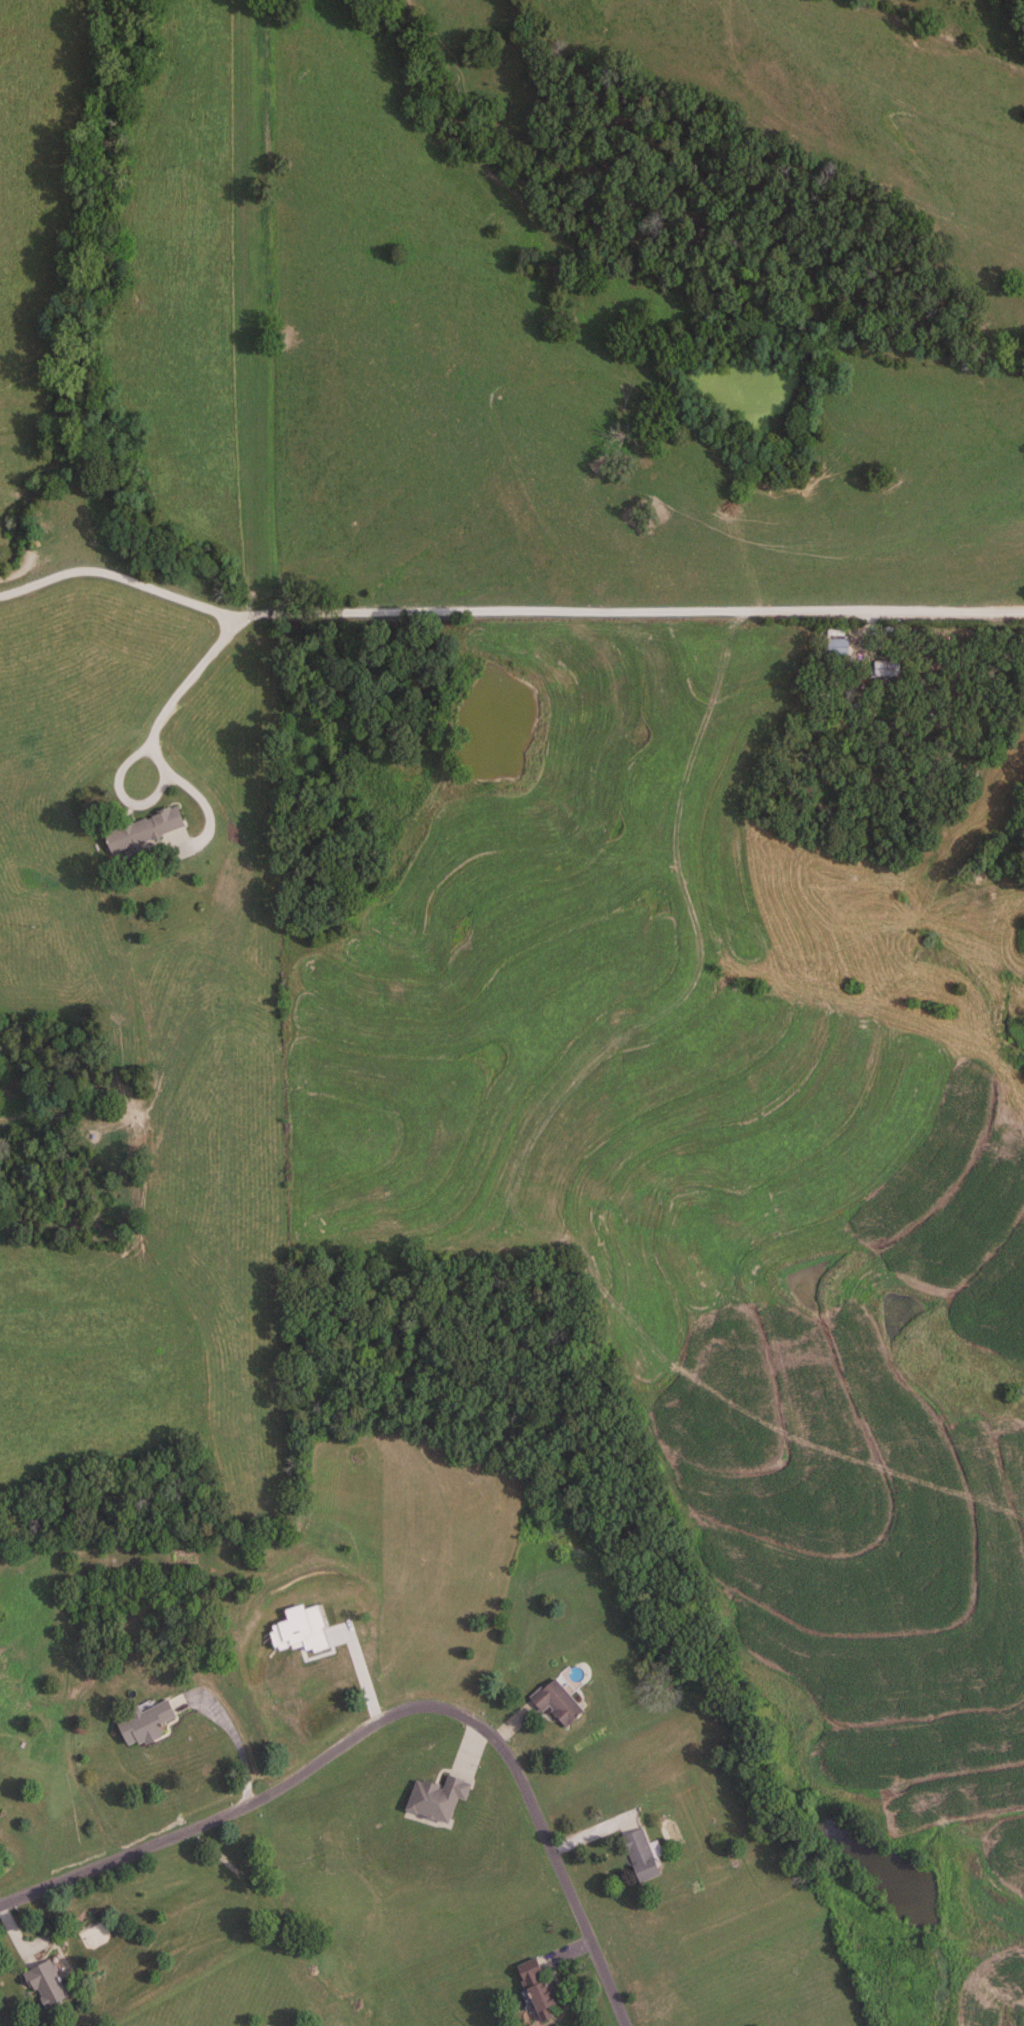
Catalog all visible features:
road: (507, 609)
building: (838, 648)
building: (886, 669)
road: (153, 732)
road: (122, 792)
building: (143, 832)
road: (361, 1677)
building: (557, 1703)
road: (388, 1718)
building: (146, 1724)
road: (239, 1748)
building: (437, 1799)
building: (641, 1857)
building: (47, 1986)
building: (539, 1990)

